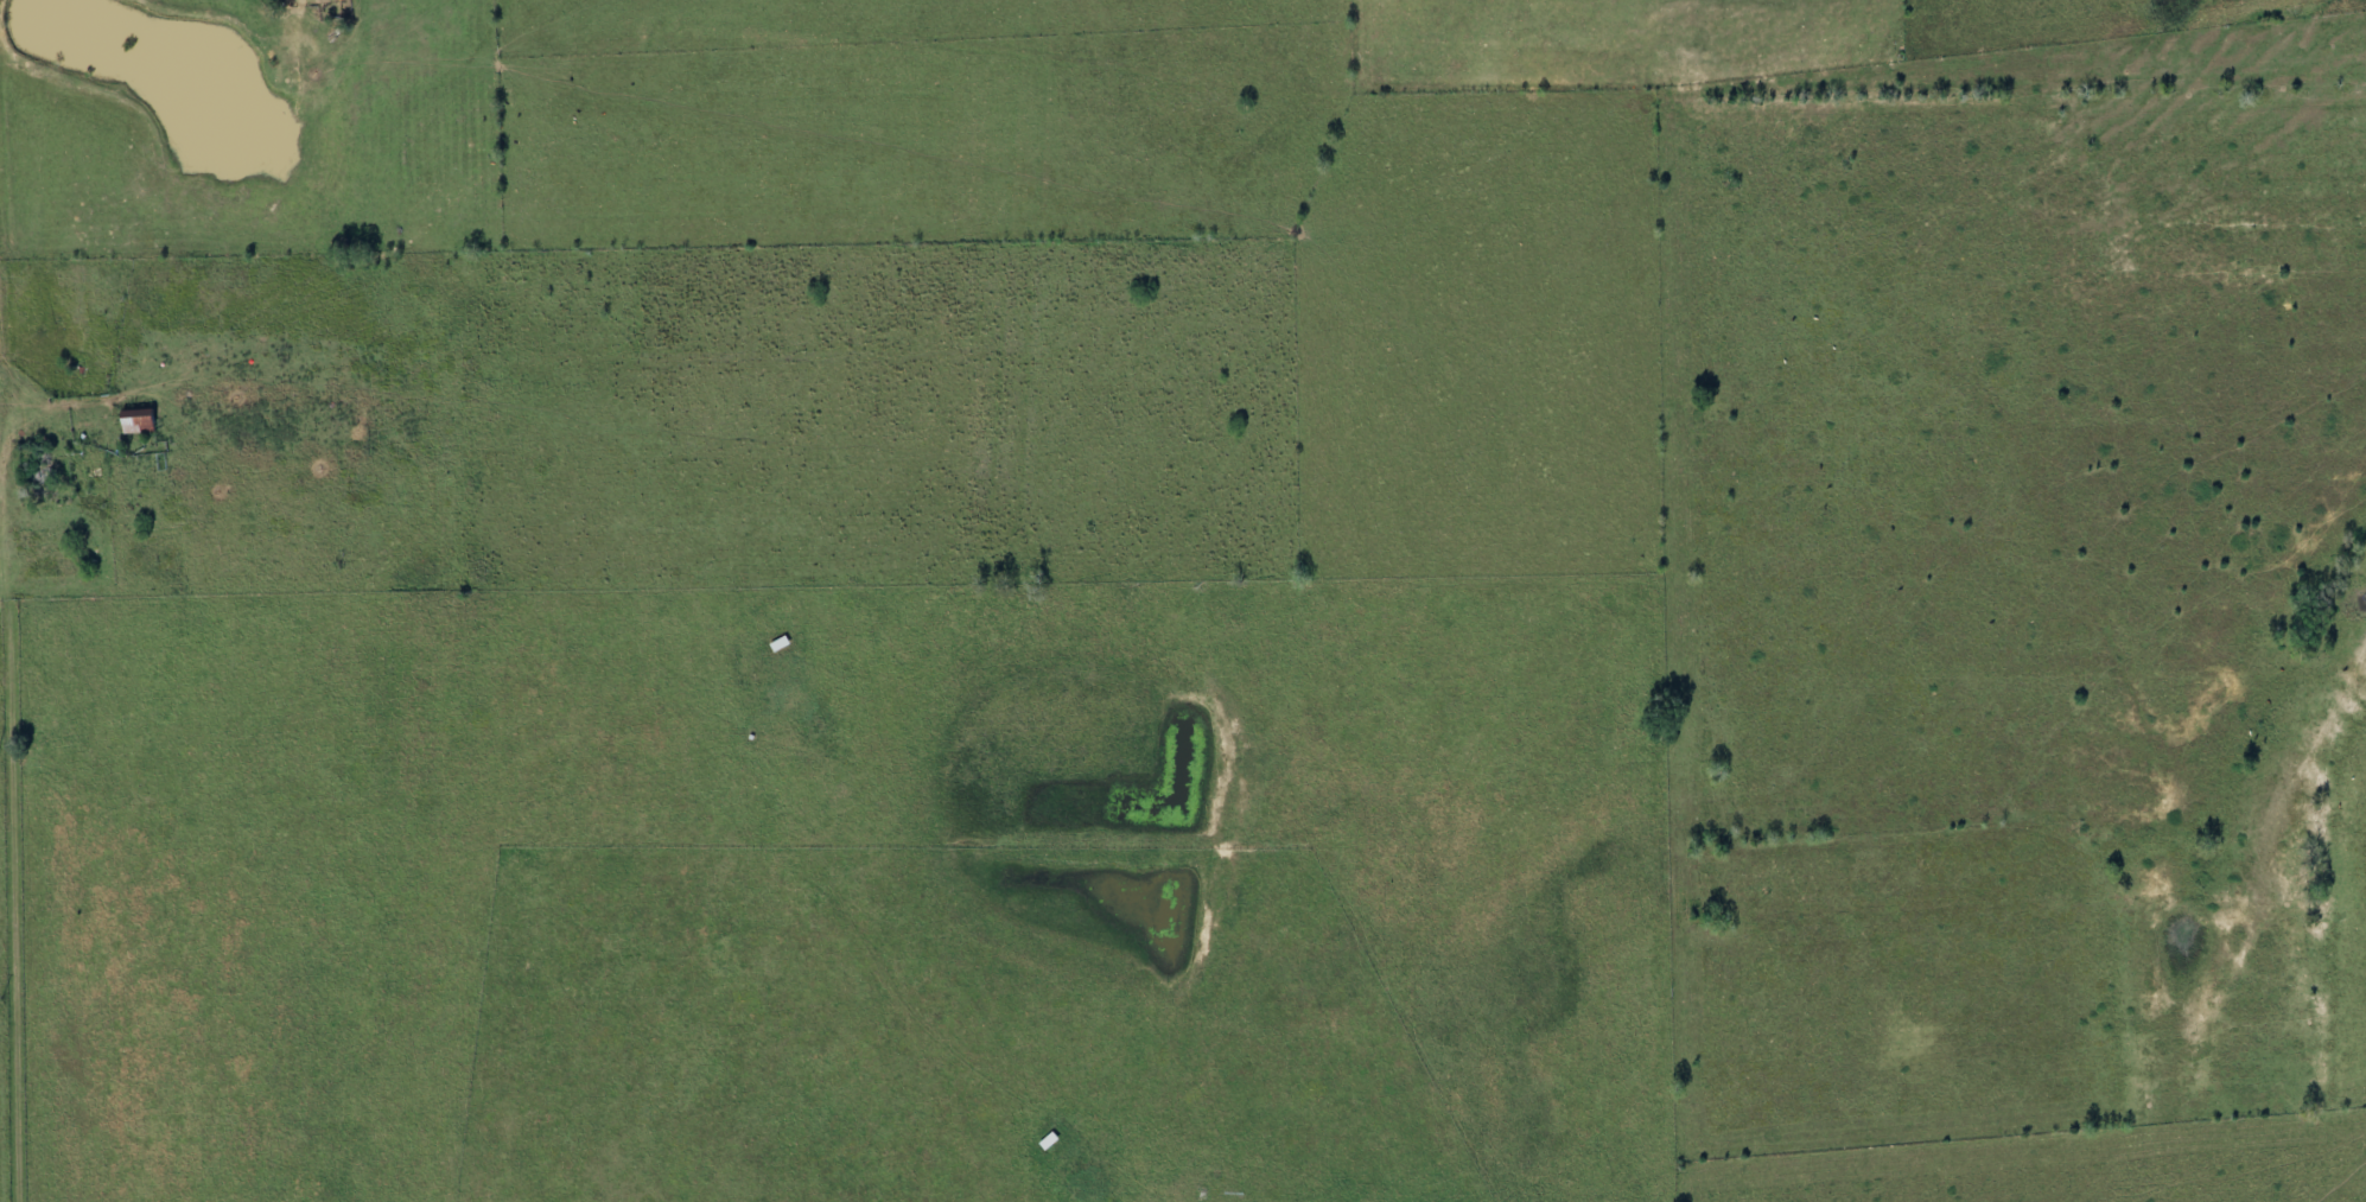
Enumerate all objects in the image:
building: (140, 422)
road: (9, 752)

